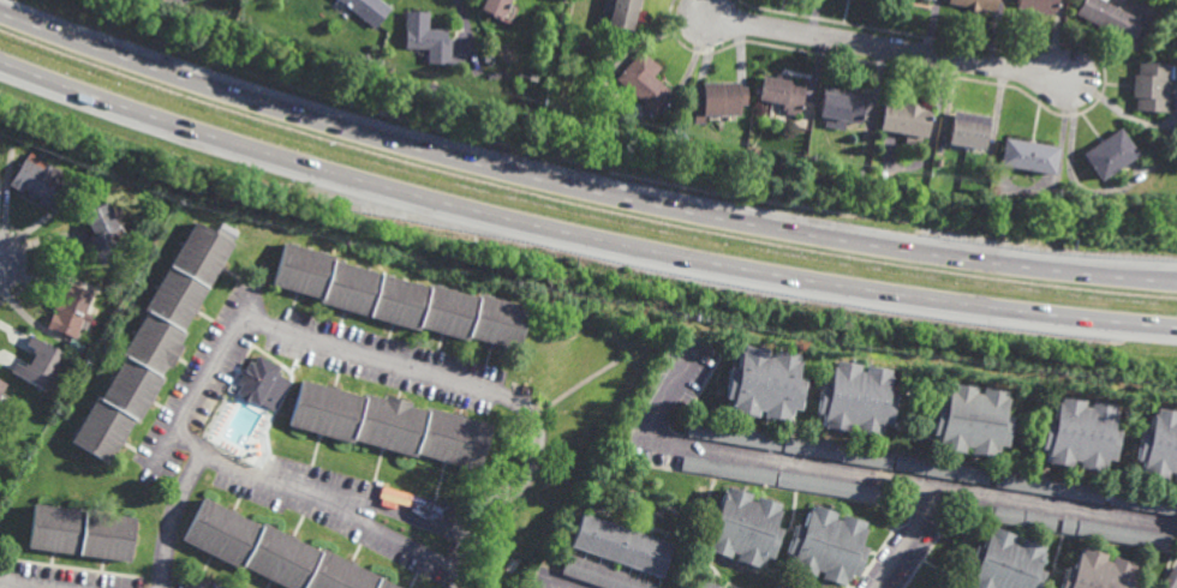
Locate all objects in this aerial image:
building: (973, 5)
building: (1035, 5)
building: (497, 8)
building: (366, 10)
building: (619, 13)
building: (1106, 18)
building: (225, 26)
building: (425, 35)
road: (888, 46)
building: (488, 56)
building: (644, 80)
building: (1148, 84)
building: (782, 92)
building: (719, 98)
building: (841, 107)
building: (906, 118)
building: (967, 128)
building: (694, 150)
building: (1109, 152)
building: (1027, 155)
building: (939, 162)
building: (1149, 167)
building: (859, 173)
building: (38, 176)
road: (579, 187)
building: (102, 229)
road: (579, 233)
road: (1148, 276)
building: (399, 298)
building: (68, 307)
building: (151, 341)
building: (74, 344)
road: (339, 346)
building: (40, 362)
building: (256, 377)
building: (761, 383)
building: (1, 384)
building: (854, 397)
building: (968, 419)
building: (388, 422)
building: (1076, 432)
building: (733, 434)
building: (1158, 444)
building: (836, 451)
road: (754, 452)
building: (728, 469)
building: (940, 469)
building: (831, 486)
building: (1047, 486)
building: (394, 498)
road: (1002, 499)
building: (1142, 502)
road: (331, 511)
building: (1018, 516)
building: (739, 527)
building: (82, 532)
building: (1115, 533)
building: (616, 546)
building: (825, 546)
building: (273, 552)
building: (1002, 563)
building: (1095, 572)
building: (599, 574)
building: (704, 584)
road: (11, 586)
road: (563, 586)

